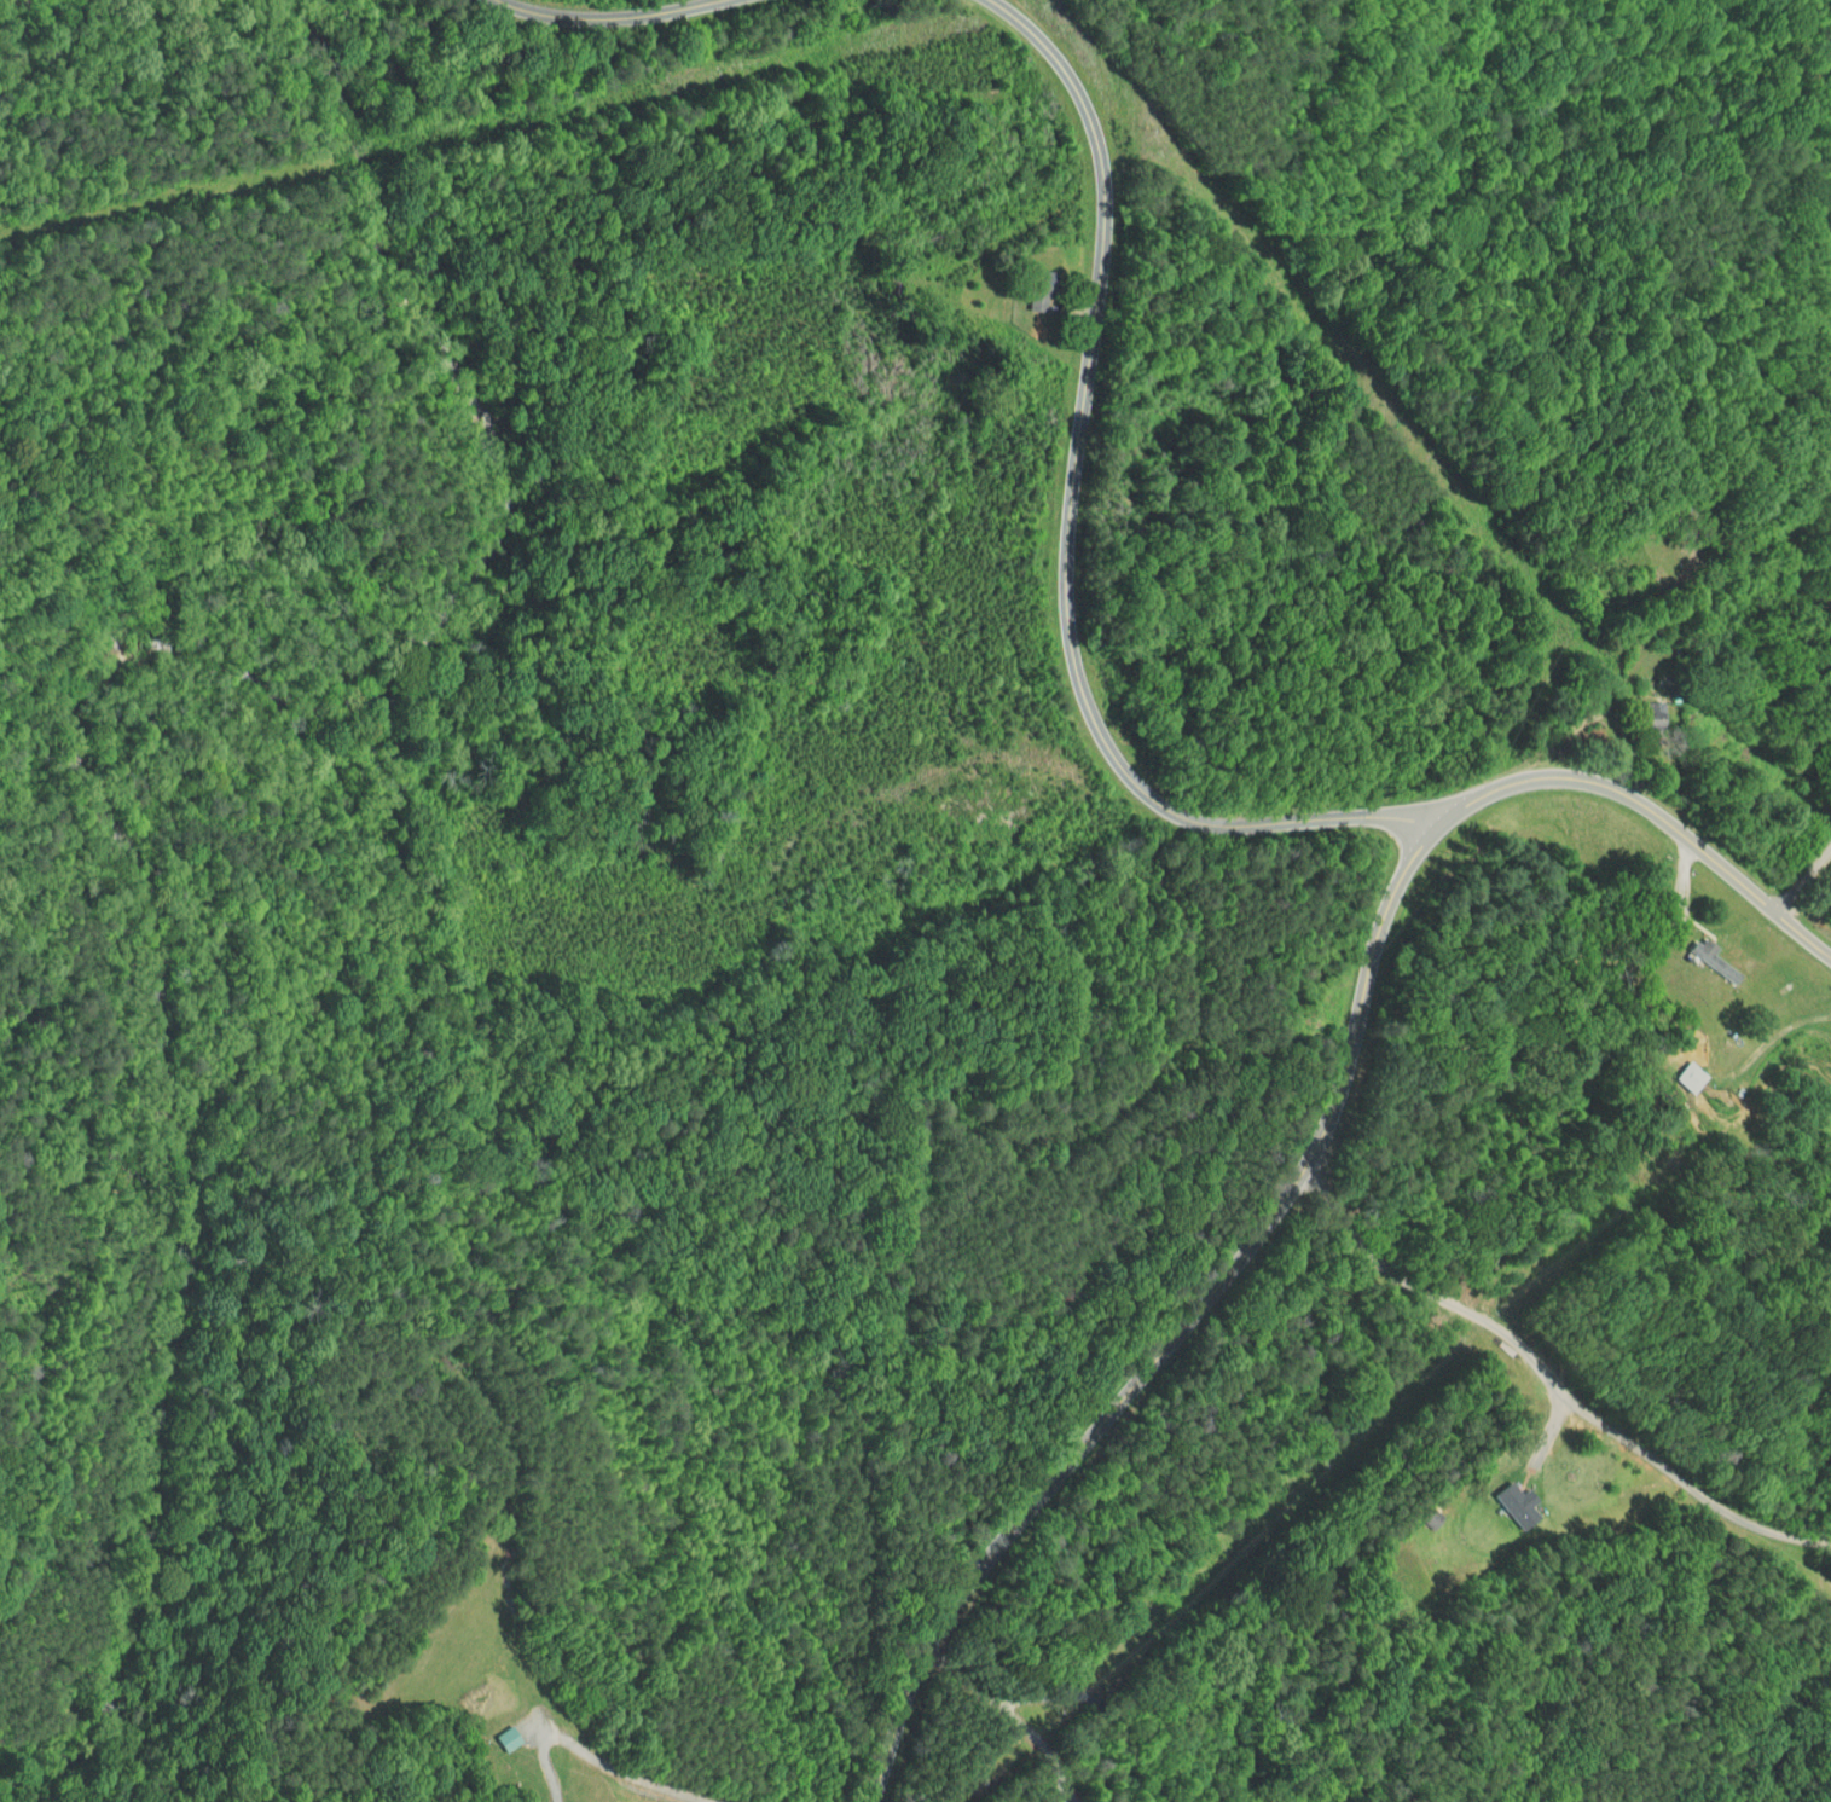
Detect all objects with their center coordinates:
road: (612, 22)
building: (1030, 290)
road: (1065, 531)
building: (1655, 703)
road: (1809, 888)
building: (1697, 943)
building: (1680, 1068)
road: (1320, 1138)
road: (1561, 1372)
building: (1508, 1496)
road: (1016, 1715)
building: (499, 1729)

